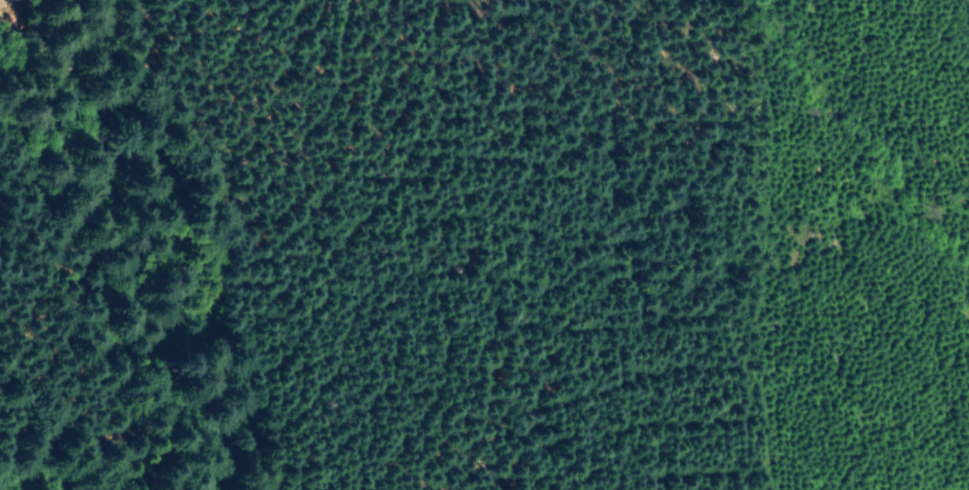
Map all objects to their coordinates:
road: (4, 0)
road: (953, 147)
road: (300, 204)

